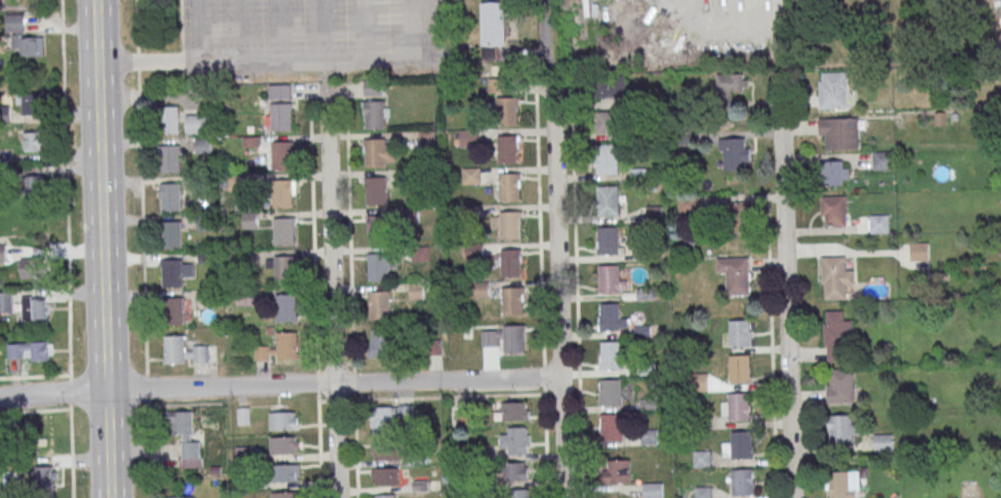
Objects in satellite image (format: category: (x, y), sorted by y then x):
building: (14, 22)
building: (494, 23)
road: (136, 26)
road: (729, 29)
road: (196, 31)
park: (892, 33)
building: (29, 46)
road: (543, 50)
road: (138, 61)
road: (293, 66)
road: (328, 75)
building: (505, 76)
building: (732, 83)
building: (612, 86)
building: (279, 91)
building: (834, 92)
building: (31, 104)
building: (507, 111)
building: (375, 114)
building: (279, 117)
building: (170, 120)
building: (607, 121)
building: (196, 124)
building: (840, 132)
building: (468, 138)
building: (32, 141)
building: (509, 149)
building: (378, 152)
building: (280, 154)
building: (734, 154)
building: (169, 158)
building: (606, 159)
building: (883, 159)
building: (835, 172)
building: (470, 176)
building: (33, 186)
building: (509, 187)
road: (65, 190)
building: (375, 190)
building: (283, 193)
building: (170, 197)
building: (607, 200)
building: (833, 210)
building: (737, 218)
building: (249, 220)
road: (142, 222)
building: (878, 222)
road: (539, 224)
building: (511, 225)
road: (313, 227)
road: (349, 229)
building: (378, 229)
building: (283, 231)
building: (172, 234)
building: (607, 240)
road: (102, 249)
building: (919, 250)
building: (2, 253)
building: (510, 263)
building: (378, 267)
building: (30, 268)
building: (284, 270)
building: (175, 271)
building: (735, 275)
building: (836, 277)
building: (611, 279)
road: (784, 284)
road: (576, 288)
road: (331, 291)
road: (557, 293)
building: (512, 301)
building: (6, 302)
building: (380, 305)
building: (33, 308)
building: (285, 308)
building: (176, 310)
building: (611, 318)
building: (739, 333)
building: (838, 336)
building: (504, 338)
building: (381, 342)
road: (771, 346)
building: (279, 348)
building: (30, 351)
building: (187, 351)
building: (610, 355)
road: (321, 364)
road: (335, 364)
road: (349, 364)
building: (739, 368)
road: (543, 376)
road: (317, 382)
road: (354, 382)
road: (279, 383)
building: (840, 385)
road: (147, 388)
road: (70, 392)
building: (608, 393)
road: (430, 397)
building: (735, 407)
road: (35, 410)
building: (514, 411)
building: (243, 416)
building: (283, 419)
building: (384, 421)
building: (611, 427)
building: (842, 428)
building: (185, 436)
building: (514, 441)
building: (883, 441)
road: (544, 442)
building: (41, 443)
road: (318, 444)
road: (355, 444)
building: (284, 445)
building: (739, 445)
road: (148, 449)
road: (71, 450)
building: (384, 451)
building: (701, 459)
building: (515, 472)
building: (617, 472)
building: (286, 473)
building: (46, 476)
building: (385, 477)
building: (742, 482)
building: (844, 484)
building: (652, 490)
building: (703, 492)
building: (521, 493)
building: (285, 494)
building: (384, 496)
building: (181, 497)

